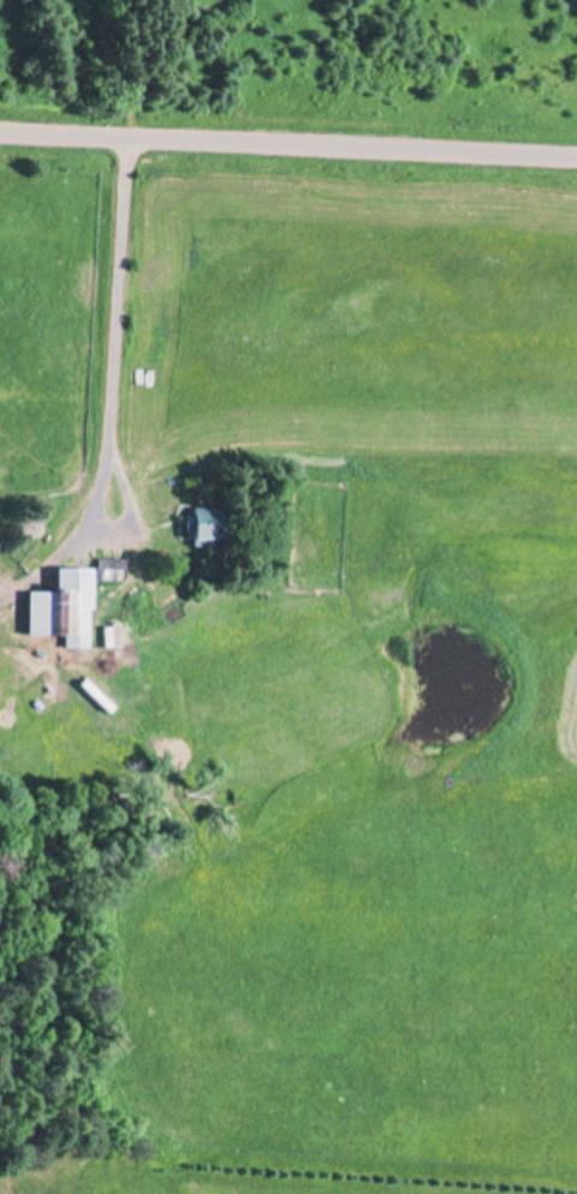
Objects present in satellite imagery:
road: (287, 144)
road: (120, 268)
building: (204, 524)
building: (108, 565)
building: (61, 607)

